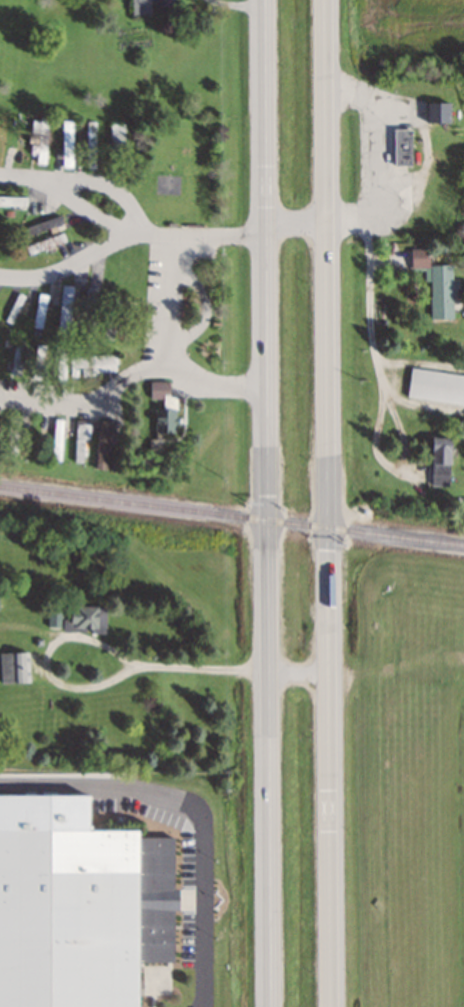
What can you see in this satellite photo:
building: (149, 6)
building: (437, 114)
building: (42, 141)
building: (117, 141)
building: (0, 143)
building: (67, 144)
building: (90, 145)
road: (114, 186)
road: (70, 195)
building: (12, 202)
building: (35, 229)
road: (128, 237)
building: (45, 245)
building: (435, 283)
building: (14, 309)
building: (39, 311)
building: (65, 311)
building: (90, 312)
building: (111, 315)
building: (18, 357)
building: (40, 361)
building: (61, 364)
building: (94, 364)
road: (132, 375)
building: (436, 386)
building: (163, 408)
building: (14, 434)
building: (57, 439)
building: (80, 441)
building: (102, 445)
building: (439, 460)
road: (268, 503)
road: (327, 503)
building: (76, 618)
building: (14, 666)
road: (192, 810)
building: (81, 915)

